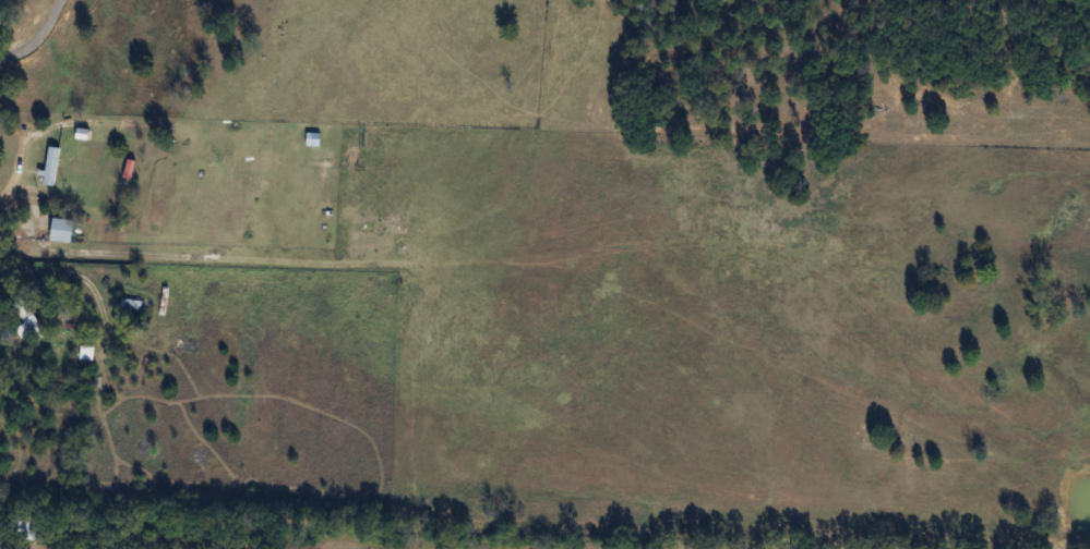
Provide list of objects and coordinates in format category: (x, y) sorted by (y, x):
road: (40, 37)
building: (49, 167)
road: (14, 212)
building: (59, 231)
building: (129, 305)
building: (28, 320)

